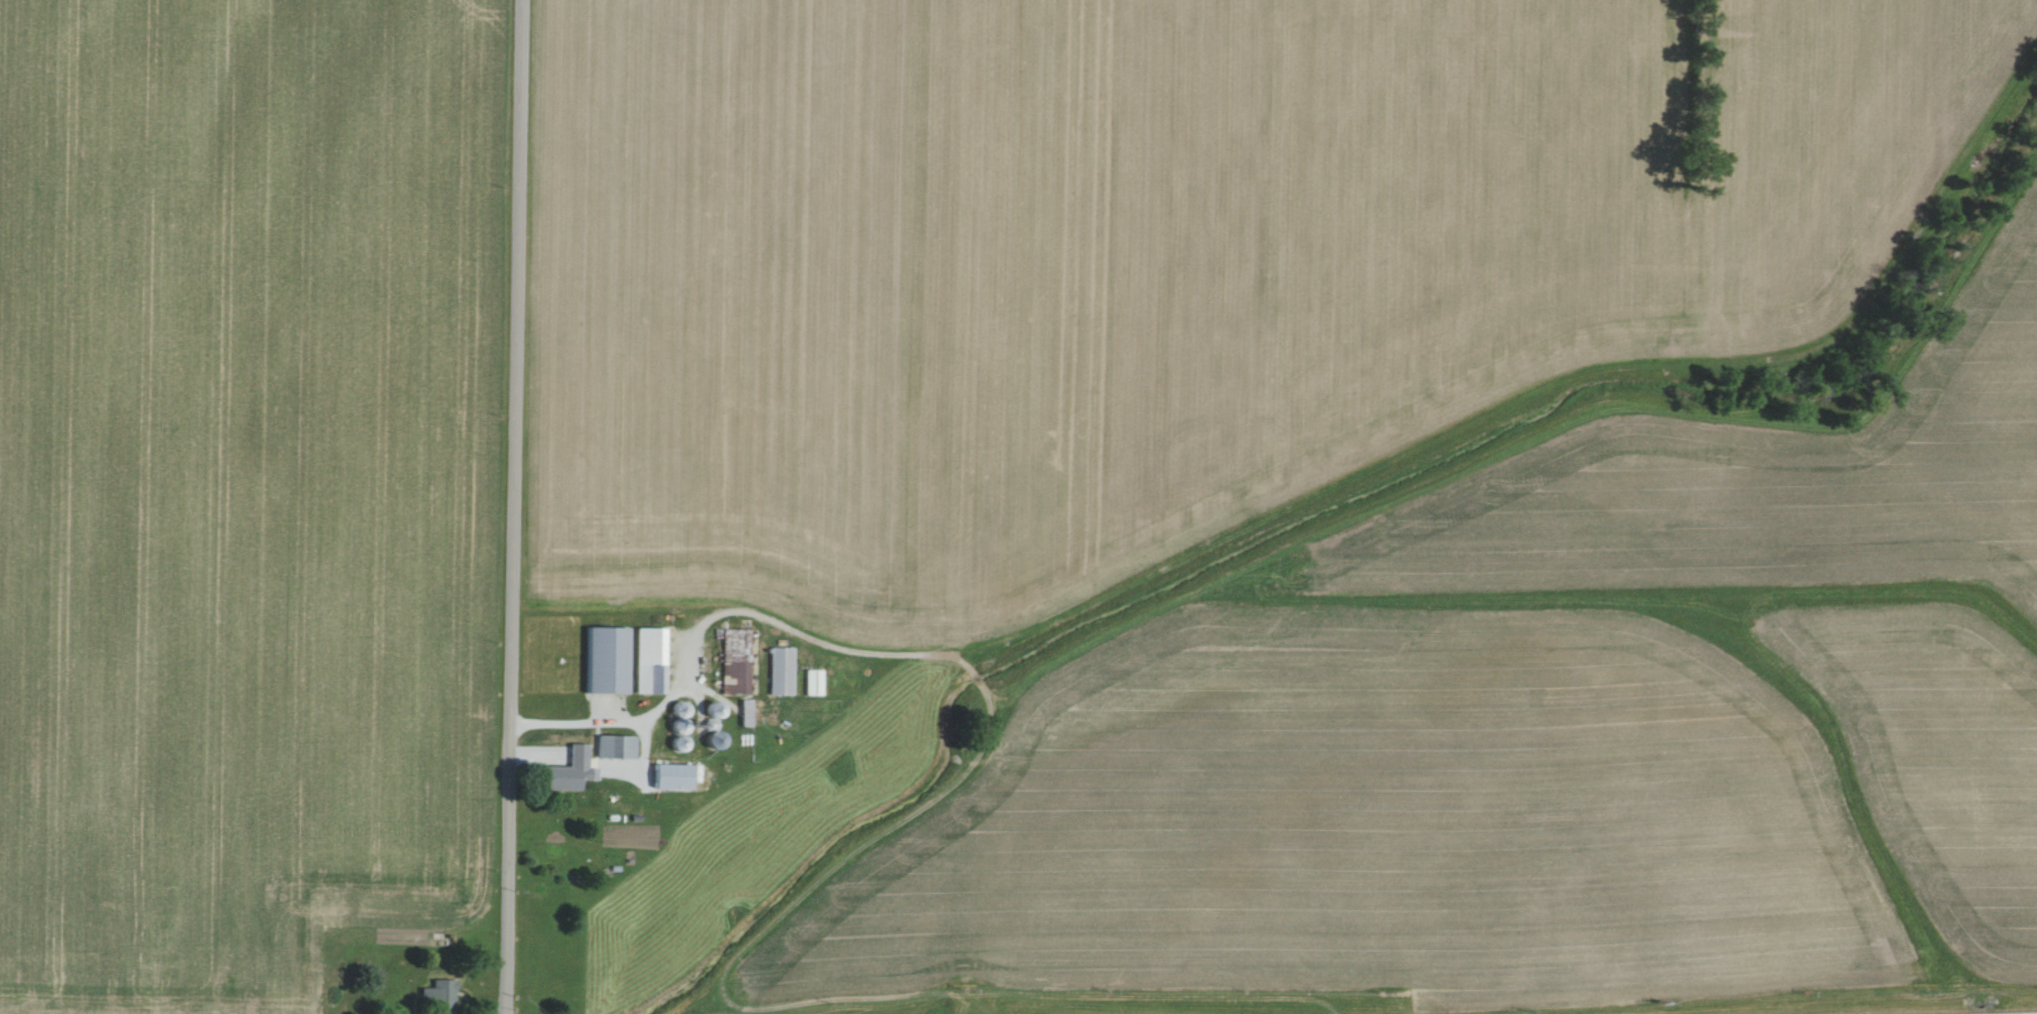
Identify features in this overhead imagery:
road: (515, 507)
building: (602, 659)
building: (645, 660)
building: (733, 660)
building: (779, 670)
building: (810, 682)
road: (614, 717)
building: (613, 746)
building: (565, 770)
building: (668, 775)
building: (436, 995)

